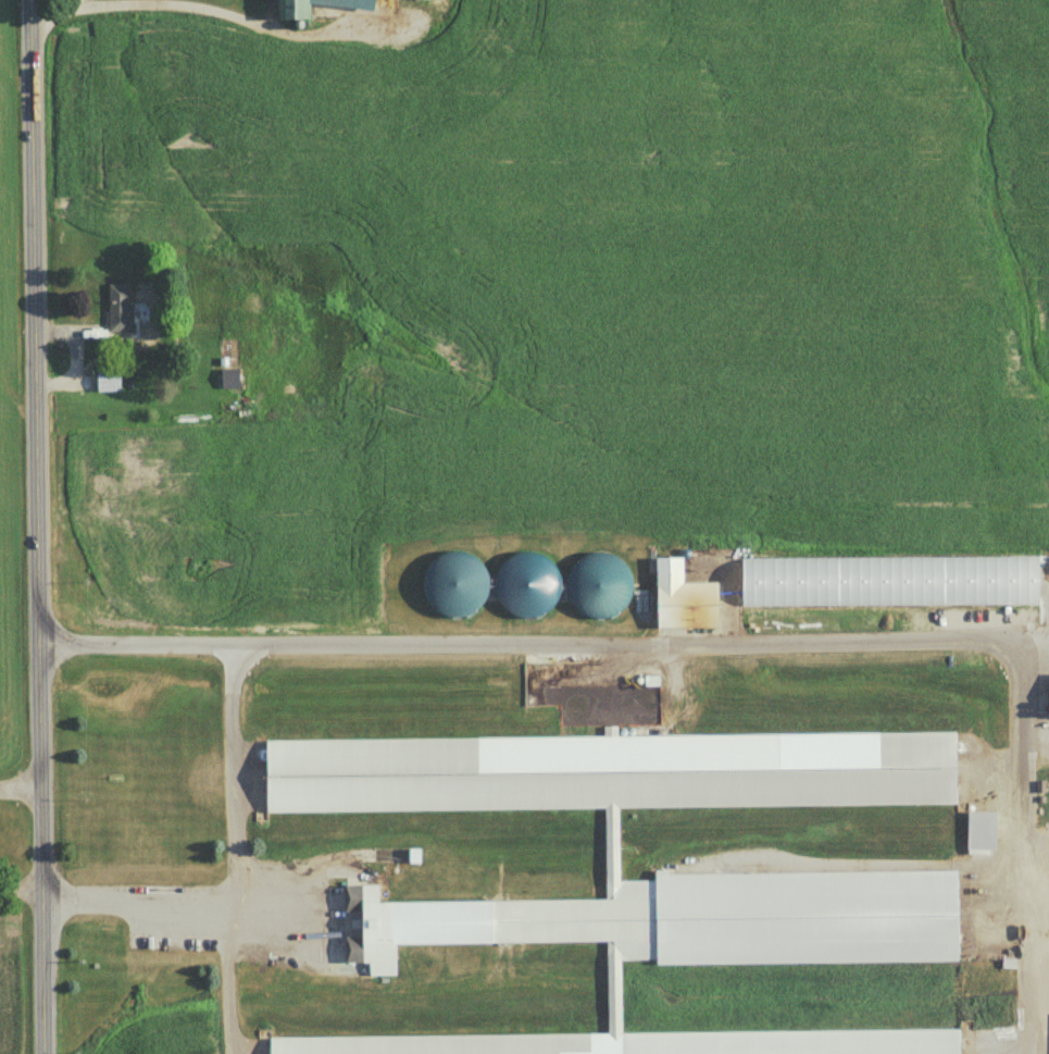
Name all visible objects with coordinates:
building: (419, 0)
building: (313, 7)
road: (217, 9)
building: (118, 309)
building: (228, 379)
building: (107, 383)
road: (37, 526)
building: (526, 585)
building: (455, 586)
building: (597, 586)
building: (680, 599)
road: (544, 643)
building: (608, 772)
road: (20, 784)
road: (1019, 806)
road: (234, 860)
road: (21, 886)
building: (711, 918)
road: (225, 976)
building: (632, 1042)

